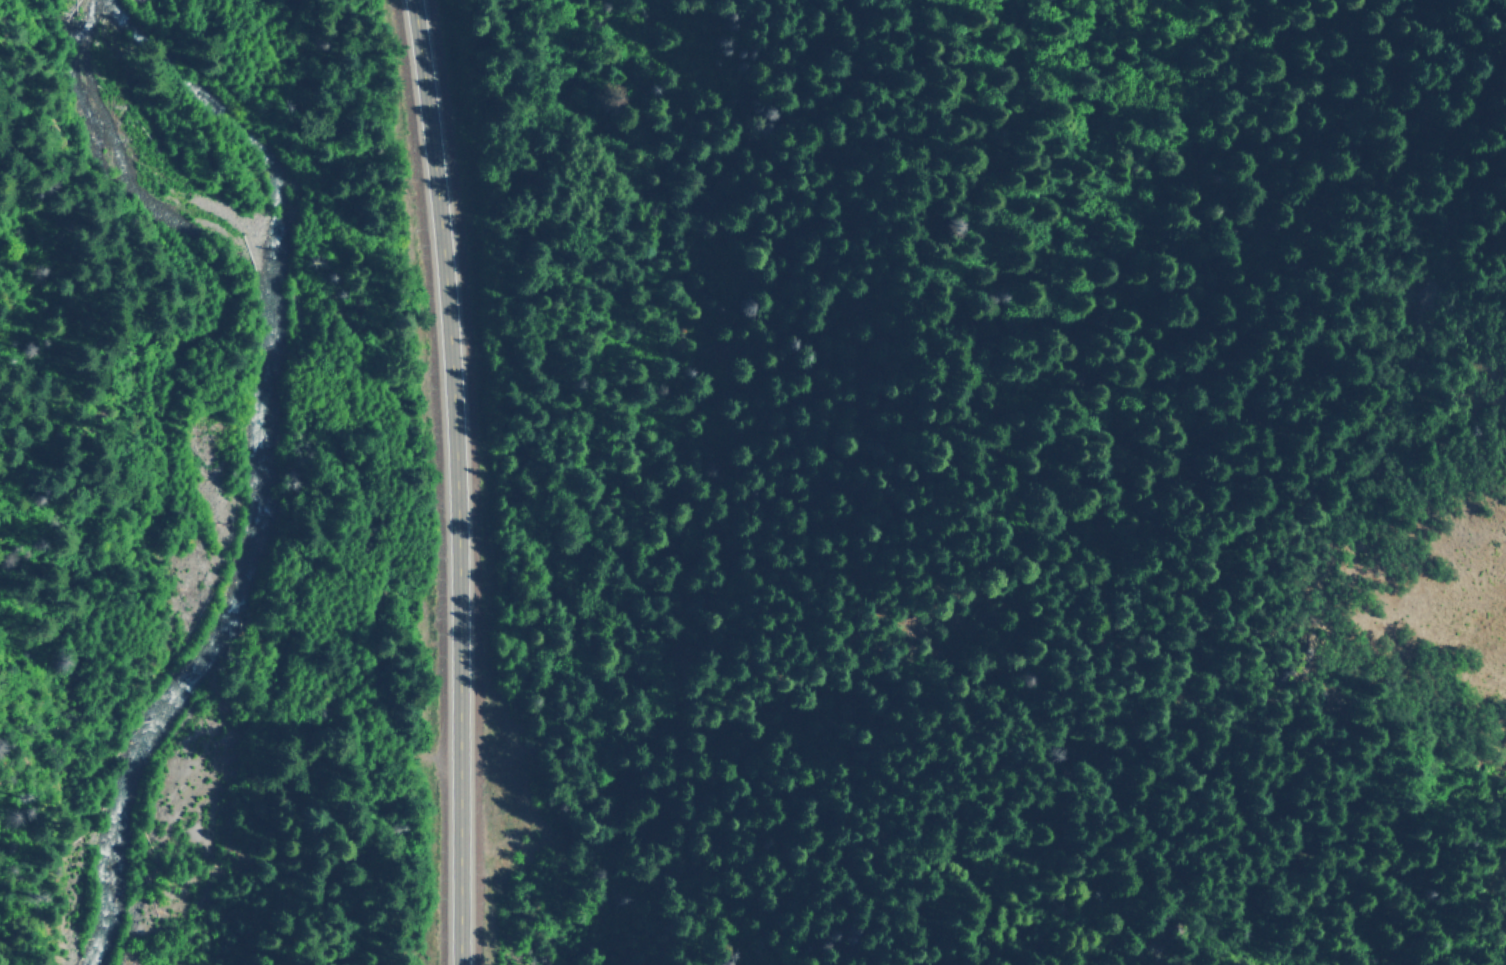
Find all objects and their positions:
river: (199, 454)
road: (462, 481)

